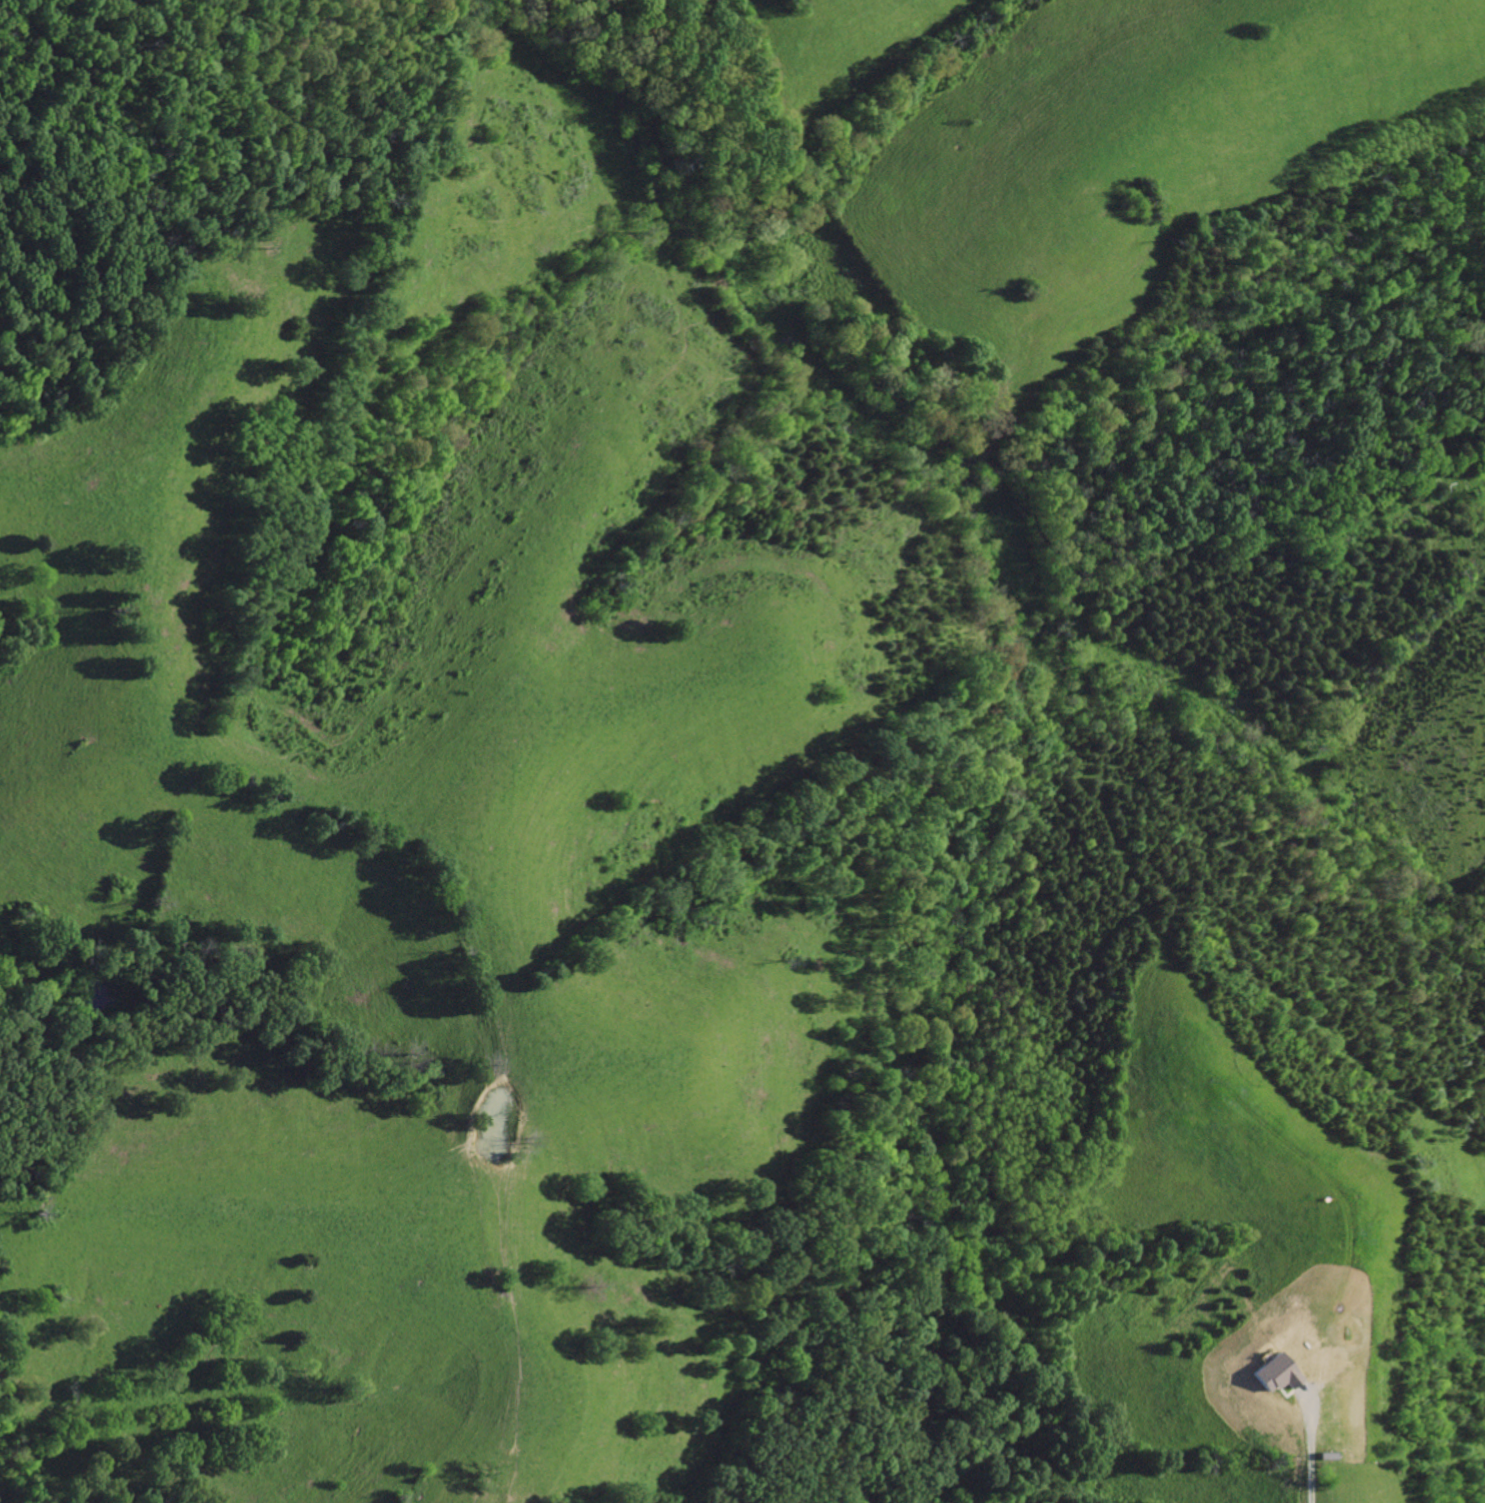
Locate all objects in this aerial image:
road: (1309, 1480)

